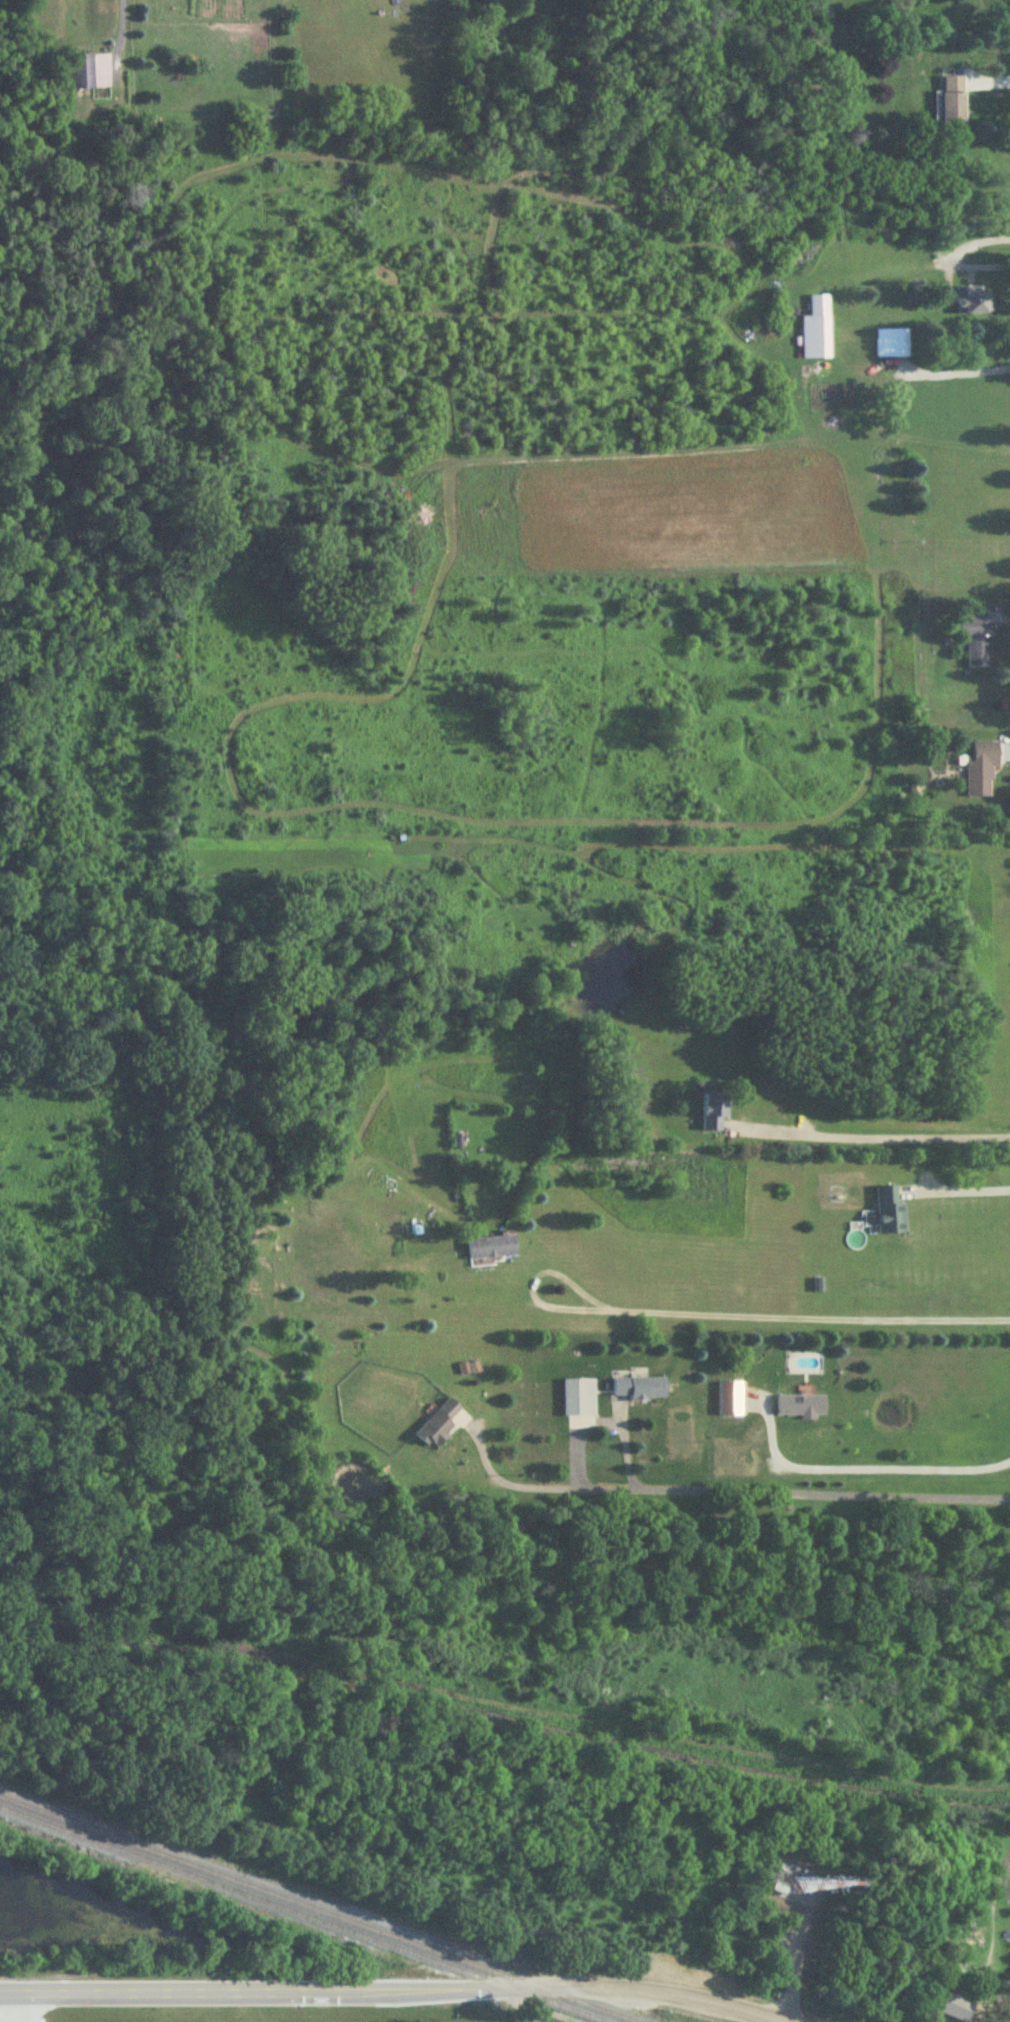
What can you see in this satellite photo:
road: (119, 17)
building: (81, 73)
building: (950, 101)
building: (973, 301)
building: (816, 330)
building: (891, 344)
road: (956, 371)
building: (976, 644)
building: (981, 767)
building: (714, 1112)
road: (873, 1139)
road: (954, 1187)
building: (890, 1213)
building: (491, 1248)
road: (531, 1285)
road: (808, 1319)
building: (639, 1388)
building: (729, 1399)
building: (801, 1405)
road: (603, 1415)
building: (439, 1426)
road: (862, 1465)
road: (722, 1488)
building: (809, 1889)
building: (780, 1890)
railway: (316, 1910)
railway: (300, 1916)
road: (785, 1949)
road: (793, 1965)
road: (621, 1991)
road: (463, 1992)
road: (178, 1995)
road: (720, 2005)
road: (8, 2009)
road: (30, 2009)

